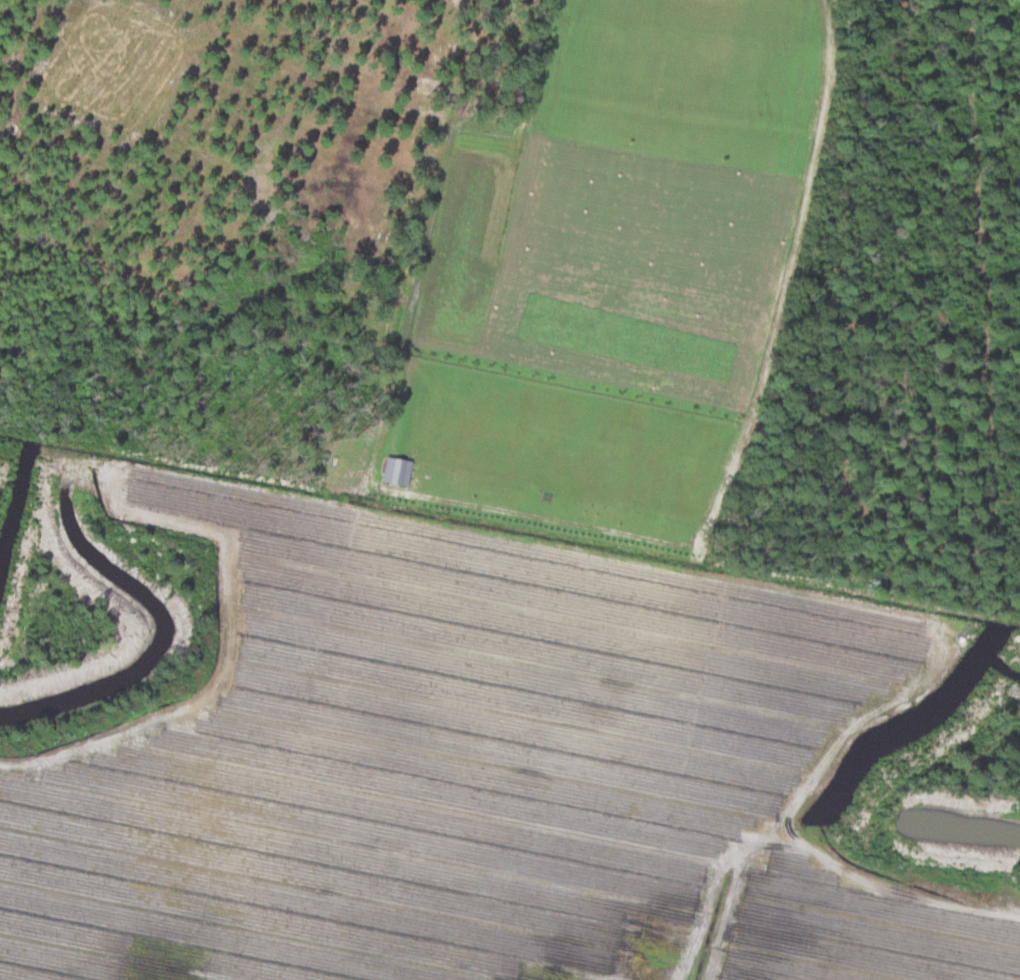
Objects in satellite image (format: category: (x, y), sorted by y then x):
building: (400, 469)

